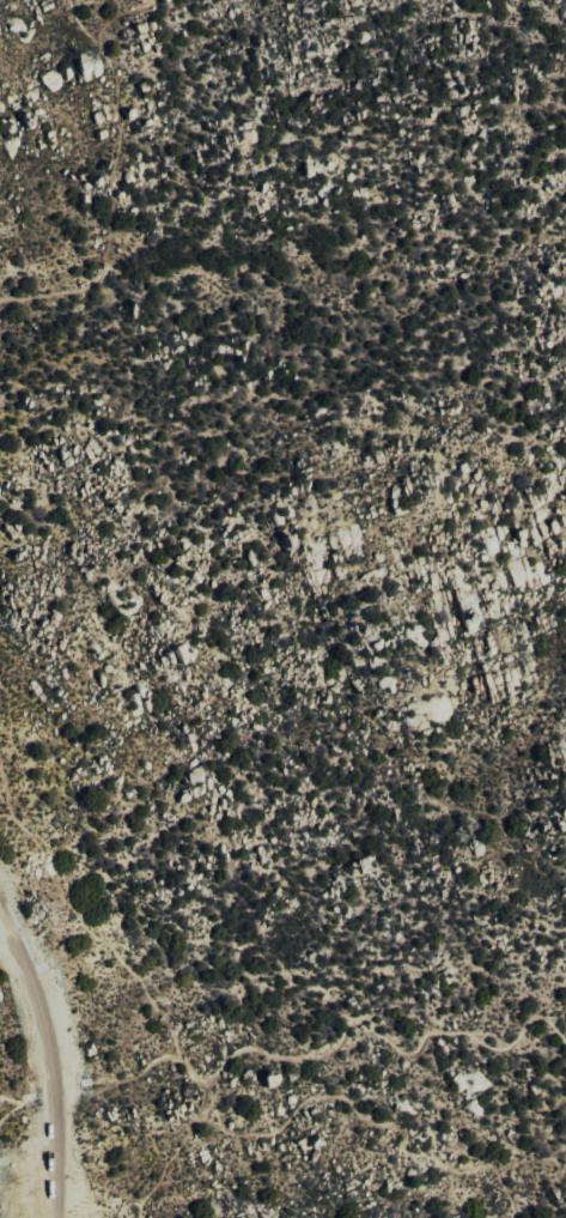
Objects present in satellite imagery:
road: (37, 996)
road: (314, 1055)
road: (175, 1140)
road: (57, 1153)

